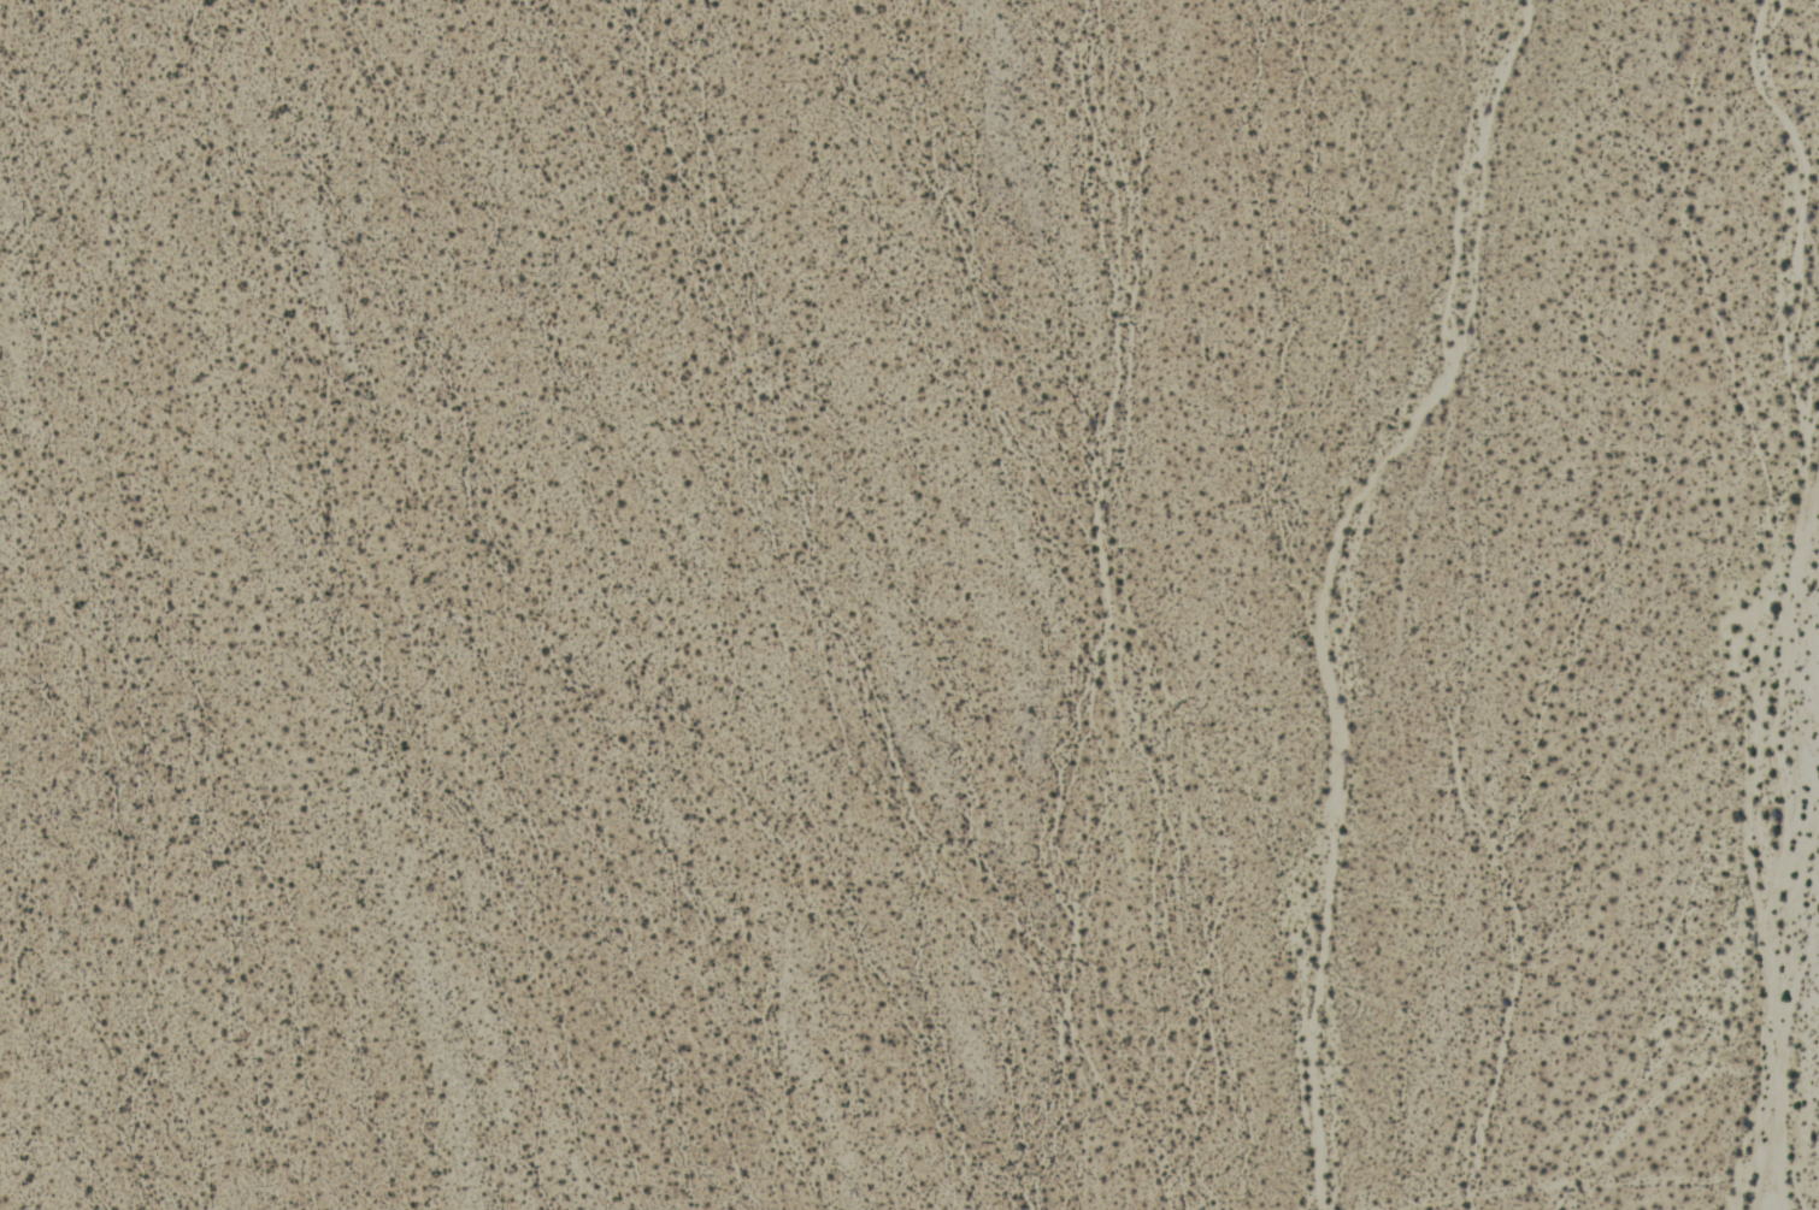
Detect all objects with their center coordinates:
road: (1590, 1165)

